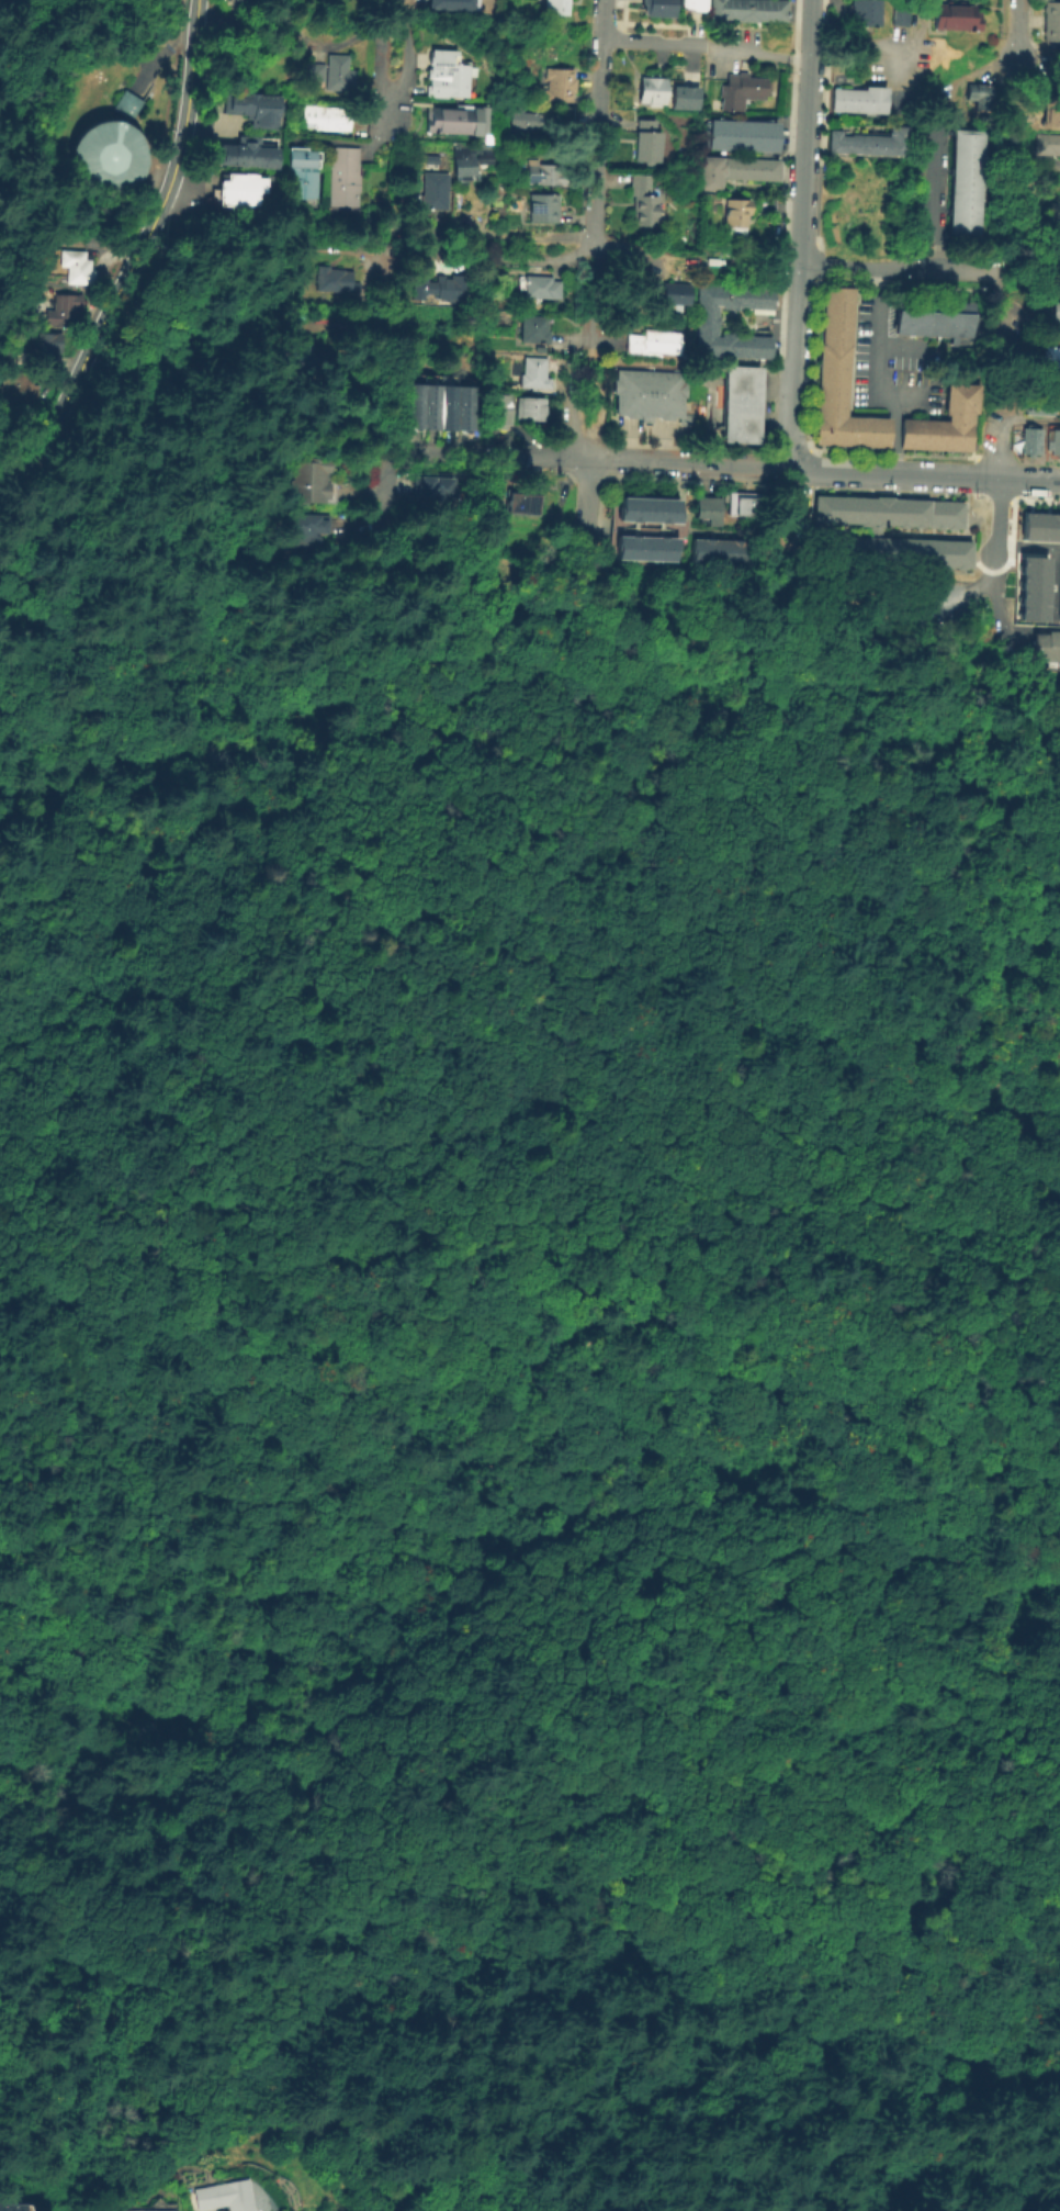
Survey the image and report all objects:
building: (235, 0)
building: (426, 0)
building: (689, 4)
building: (555, 7)
building: (661, 7)
building: (748, 10)
building: (866, 13)
building: (924, 14)
building: (957, 15)
building: (901, 16)
building: (1051, 21)
road: (1016, 30)
road: (375, 35)
road: (704, 44)
road: (856, 47)
road: (162, 56)
road: (1037, 66)
road: (405, 67)
building: (313, 70)
building: (335, 71)
building: (443, 74)
building: (560, 85)
road: (187, 89)
building: (651, 89)
building: (743, 90)
building: (981, 94)
building: (683, 97)
building: (859, 100)
building: (126, 103)
building: (249, 106)
building: (1051, 110)
building: (325, 116)
building: (454, 117)
road: (878, 117)
building: (520, 119)
road: (368, 127)
building: (742, 134)
road: (370, 141)
building: (647, 142)
building: (869, 142)
building: (1047, 142)
building: (241, 151)
building: (105, 156)
water tower: (105, 156)
building: (441, 162)
road: (1049, 162)
building: (464, 164)
building: (737, 170)
road: (595, 173)
building: (341, 175)
building: (544, 175)
building: (300, 176)
building: (962, 180)
building: (239, 181)
building: (432, 191)
building: (234, 197)
building: (643, 200)
road: (932, 202)
road: (159, 204)
building: (541, 207)
building: (737, 214)
road: (798, 234)
road: (301, 235)
road: (623, 251)
road: (455, 254)
building: (70, 265)
road: (899, 268)
road: (1050, 274)
building: (334, 282)
building: (539, 288)
road: (1042, 288)
building: (447, 289)
building: (827, 291)
building: (842, 294)
road: (369, 296)
building: (670, 296)
building: (495, 306)
building: (826, 306)
building: (63, 310)
building: (1058, 310)
building: (842, 314)
building: (931, 316)
road: (1004, 316)
building: (734, 321)
building: (826, 321)
building: (533, 330)
building: (841, 334)
building: (825, 336)
building: (654, 340)
building: (44, 347)
building: (824, 352)
building: (839, 353)
building: (1051, 358)
building: (298, 362)
road: (927, 364)
road: (80, 369)
building: (838, 369)
building: (824, 373)
building: (533, 374)
road: (875, 379)
building: (837, 382)
building: (20, 388)
building: (647, 393)
building: (837, 394)
building: (823, 395)
building: (966, 396)
building: (949, 400)
building: (736, 403)
building: (414, 405)
building: (430, 405)
building: (1036, 405)
building: (447, 406)
building: (498, 406)
building: (463, 407)
building: (529, 407)
building: (837, 407)
building: (822, 417)
building: (839, 422)
building: (858, 423)
building: (877, 423)
building: (962, 423)
road: (586, 426)
building: (916, 426)
building: (945, 426)
building: (822, 436)
building: (839, 436)
building: (858, 437)
building: (877, 438)
building: (907, 439)
building: (1027, 439)
building: (925, 440)
building: (1052, 440)
building: (943, 441)
building: (959, 441)
road: (485, 458)
road: (639, 460)
road: (742, 465)
road: (891, 473)
building: (312, 478)
road: (1025, 480)
building: (435, 491)
road: (380, 492)
road: (586, 497)
building: (521, 502)
building: (742, 503)
building: (646, 507)
building: (704, 507)
road: (790, 509)
building: (1039, 526)
building: (306, 527)
building: (891, 529)
building: (644, 546)
road: (988, 546)
road: (1024, 546)
building: (718, 550)
building: (1029, 587)
building: (1058, 595)
road: (535, 618)
road: (156, 619)
building: (1040, 644)
road: (451, 666)
road: (451, 681)
road: (452, 711)
road: (869, 786)
road: (269, 906)
road: (551, 1047)
road: (92, 1227)
road: (559, 1366)
road: (523, 1466)
road: (452, 1541)
road: (446, 1556)
road: (456, 1576)
road: (699, 1847)
road: (305, 1887)
building: (227, 2196)
building: (14, 2206)
building: (140, 2209)

